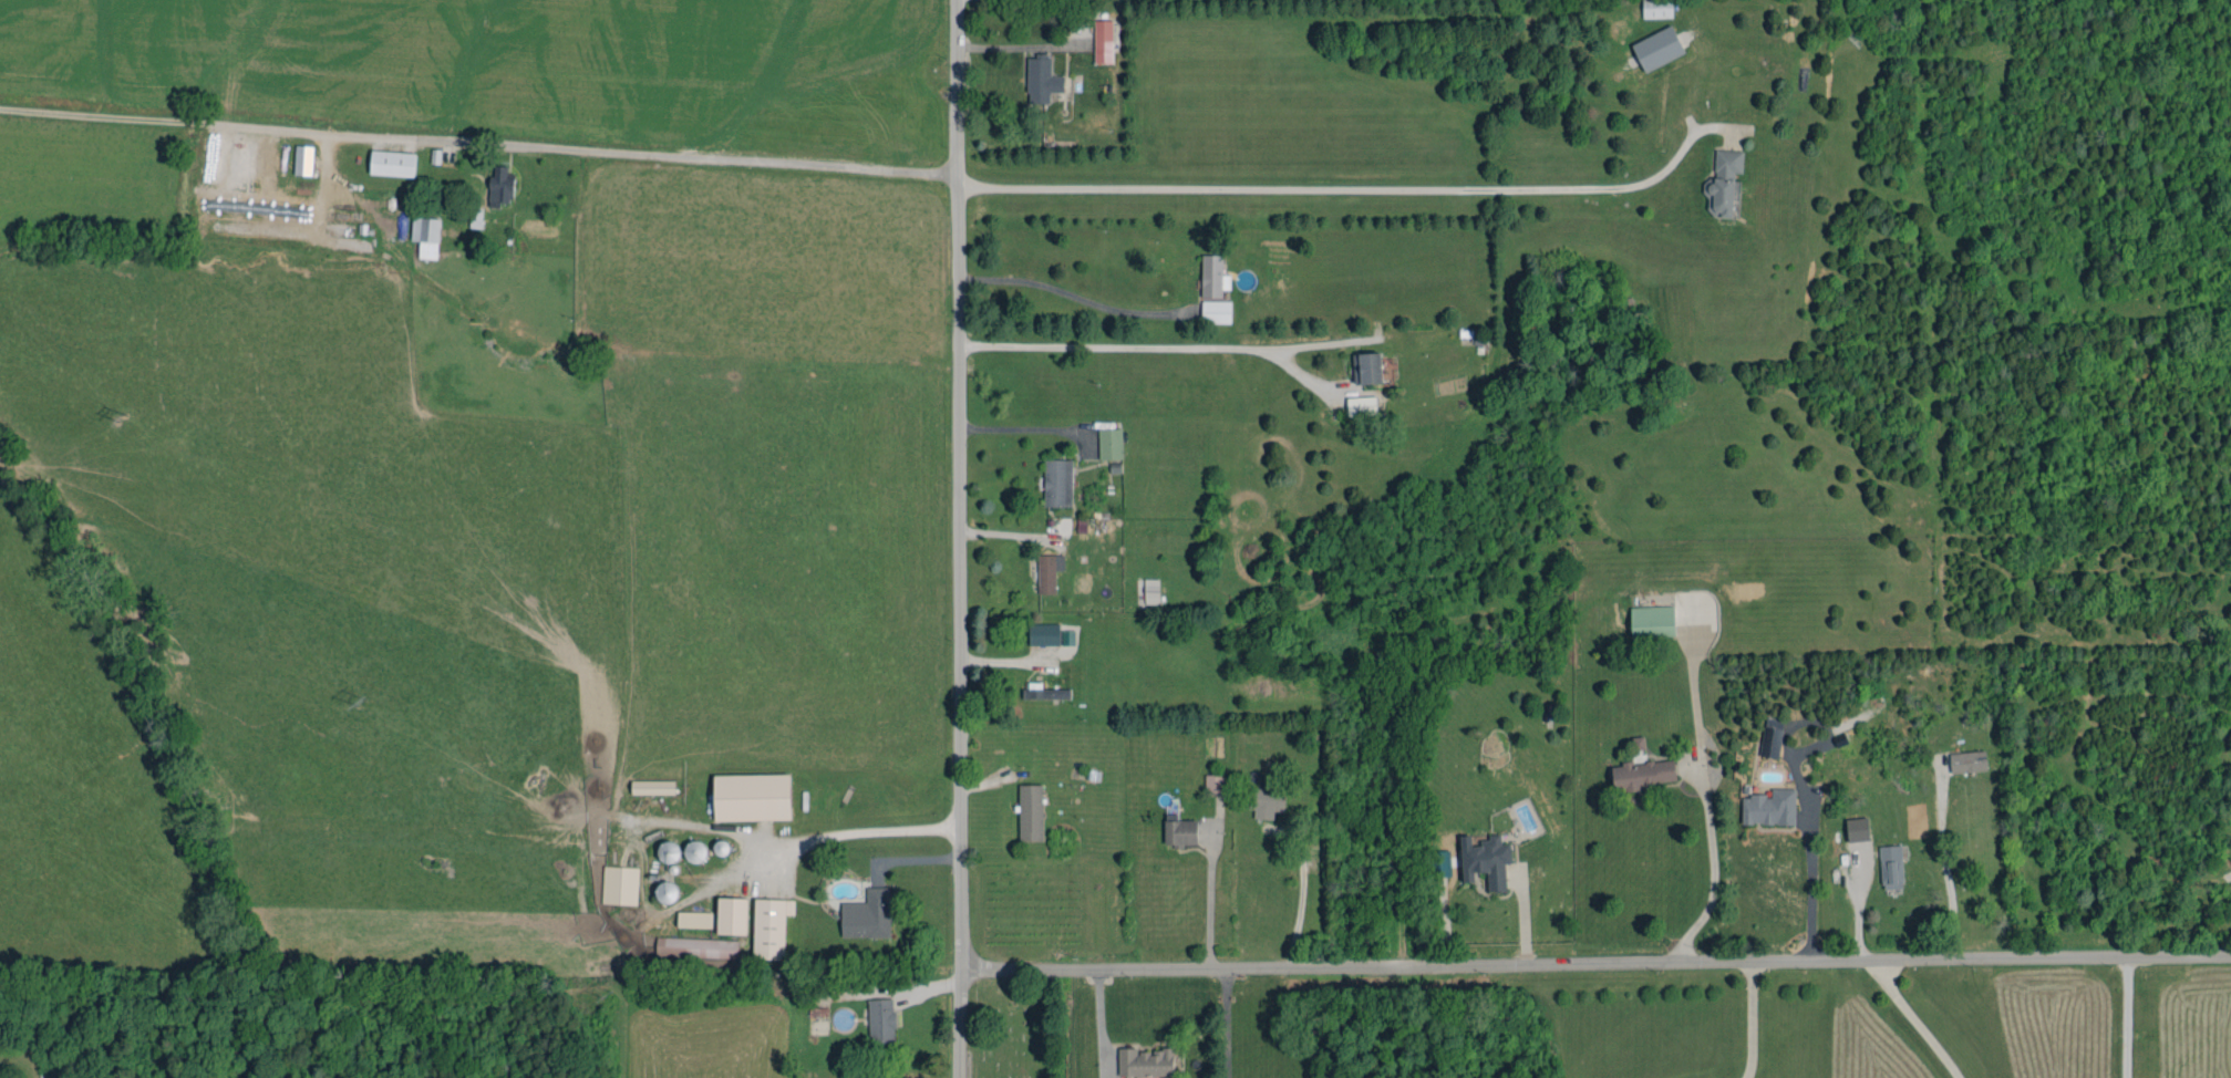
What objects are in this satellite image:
building: (1657, 9)
building: (1103, 41)
road: (1012, 46)
building: (1657, 48)
building: (1041, 80)
road: (477, 143)
building: (303, 160)
building: (393, 163)
building: (1724, 183)
building: (499, 187)
road: (1332, 190)
building: (426, 236)
building: (1213, 277)
road: (1077, 290)
building: (1216, 311)
road: (1140, 344)
building: (1367, 367)
building: (1362, 405)
power tower: (122, 418)
road: (1018, 427)
building: (1109, 444)
building: (1057, 483)
road: (959, 538)
building: (1049, 572)
building: (1151, 591)
building: (1652, 621)
building: (1044, 634)
building: (1044, 692)
power tower: (359, 699)
building: (1770, 742)
building: (1967, 761)
building: (1643, 774)
building: (1213, 782)
building: (652, 787)
building: (752, 797)
building: (1266, 801)
building: (1769, 808)
building: (1031, 812)
road: (680, 825)
building: (1857, 829)
building: (1179, 831)
building: (1485, 860)
building: (1439, 863)
road: (1942, 865)
building: (1891, 867)
road: (1710, 870)
road: (1809, 878)
building: (620, 885)
road: (1300, 900)
road: (1209, 902)
building: (868, 914)
building: (732, 915)
building: (694, 920)
building: (771, 927)
building: (696, 947)
road: (1595, 964)
power tower: (606, 994)
road: (2124, 1018)
building: (881, 1020)
road: (1749, 1020)
road: (1915, 1020)
road: (1225, 1023)
building: (1145, 1063)

